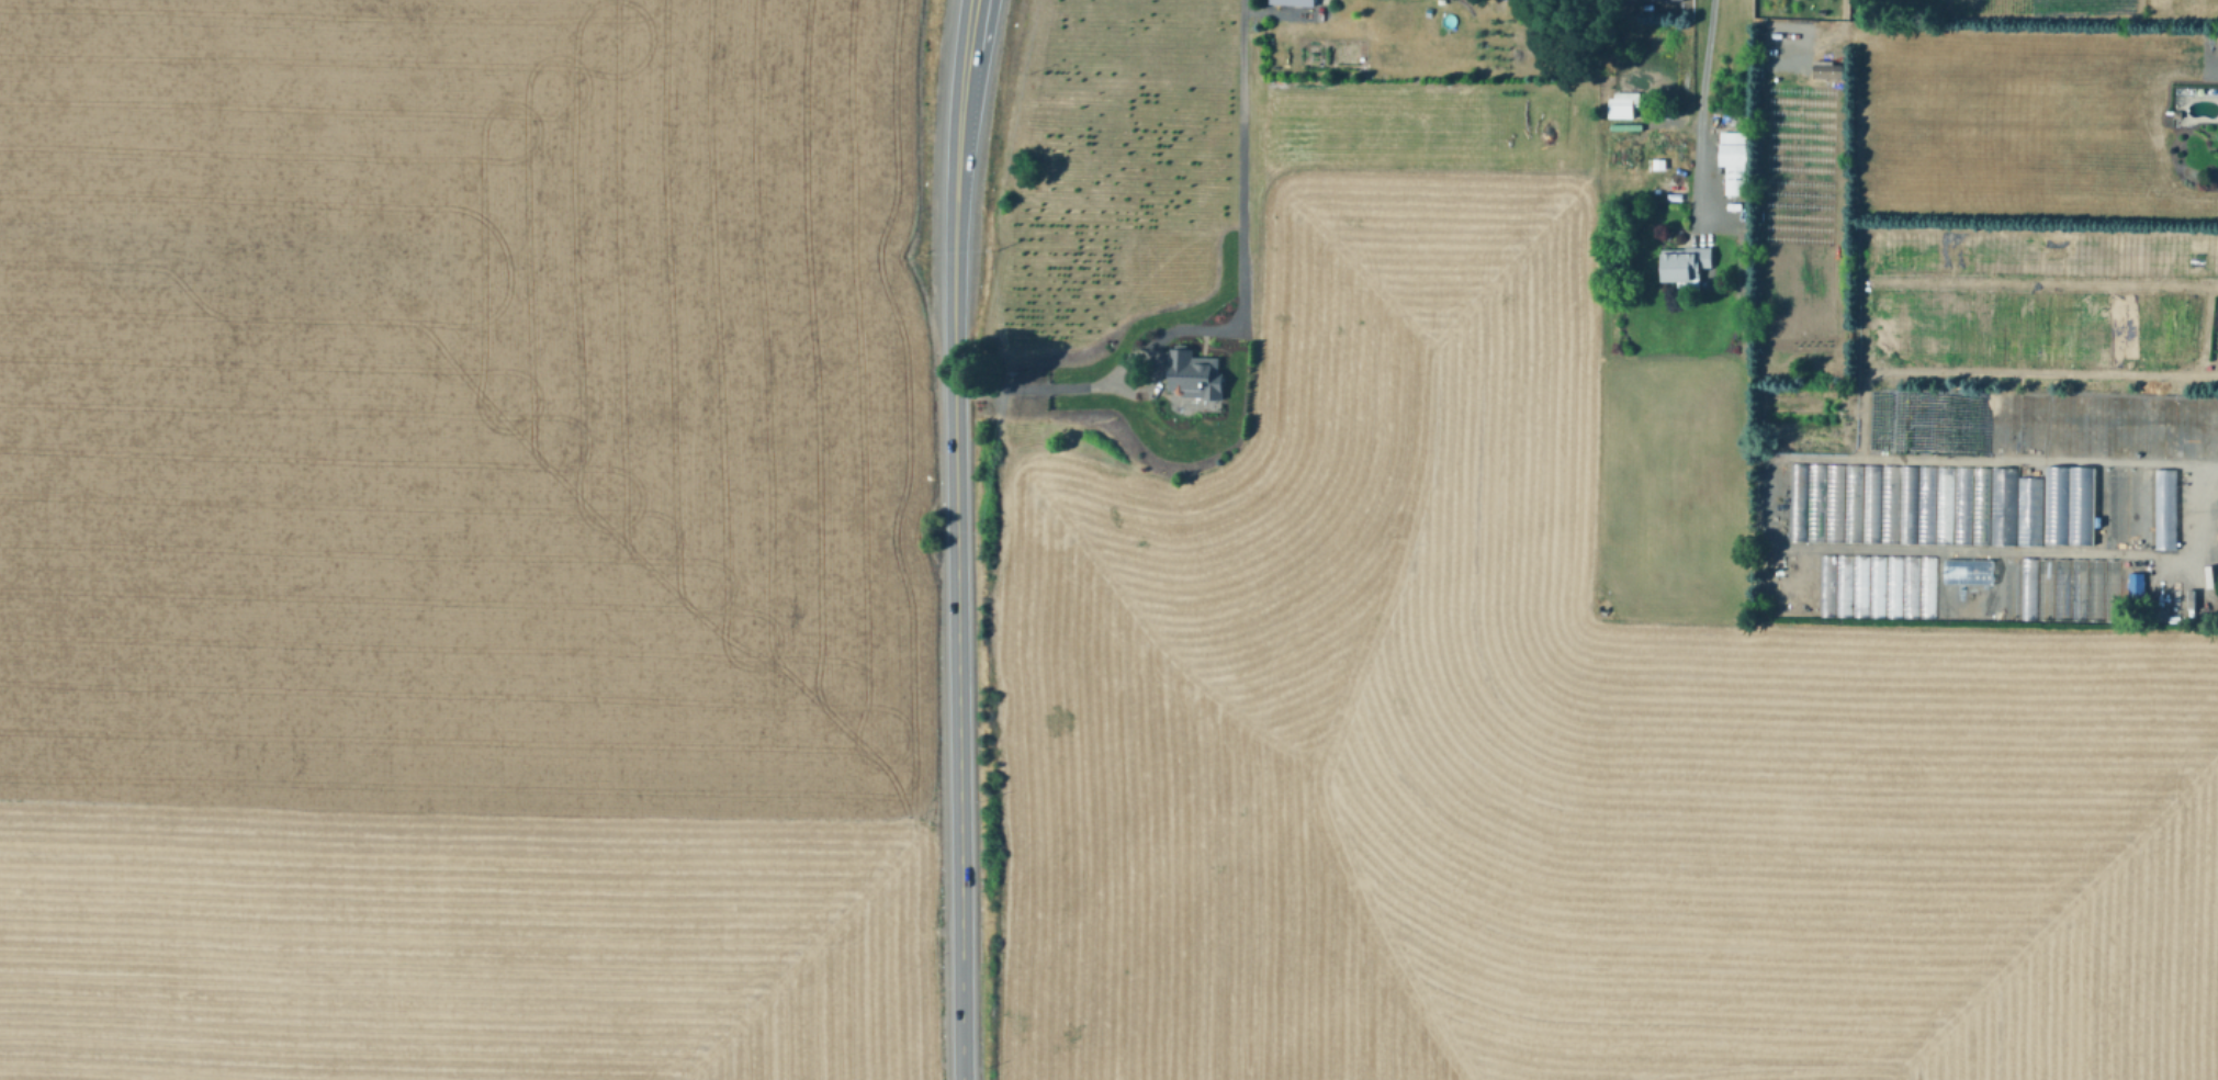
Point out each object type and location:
building: (1303, 2)
building: (1824, 68)
building: (1624, 104)
road: (1701, 115)
building: (1738, 168)
building: (1686, 262)
road: (1234, 323)
building: (1872, 351)
road: (1124, 358)
building: (1192, 374)
road: (2207, 460)
building: (1795, 503)
building: (1814, 503)
building: (1833, 503)
building: (1851, 504)
building: (1869, 504)
building: (1888, 504)
building: (1906, 505)
building: (1924, 505)
building: (1943, 505)
building: (1960, 505)
building: (2002, 505)
building: (1980, 506)
building: (2056, 506)
building: (2080, 506)
building: (2113, 508)
building: (2138, 509)
building: (2163, 509)
building: (2027, 511)
road: (956, 539)
crop: (468, 540)
road: (1779, 542)
building: (2137, 585)
building: (1824, 586)
building: (1840, 587)
building: (1858, 587)
building: (1874, 587)
building: (1892, 587)
building: (1909, 588)
building: (1926, 588)
building: (1943, 588)
building: (1960, 588)
building: (2011, 588)
building: (1977, 589)
building: (1994, 589)
building: (2027, 589)
building: (2045, 589)
building: (2079, 589)
building: (2062, 590)
building: (2095, 590)
building: (2112, 590)
crop: (1484, 654)

